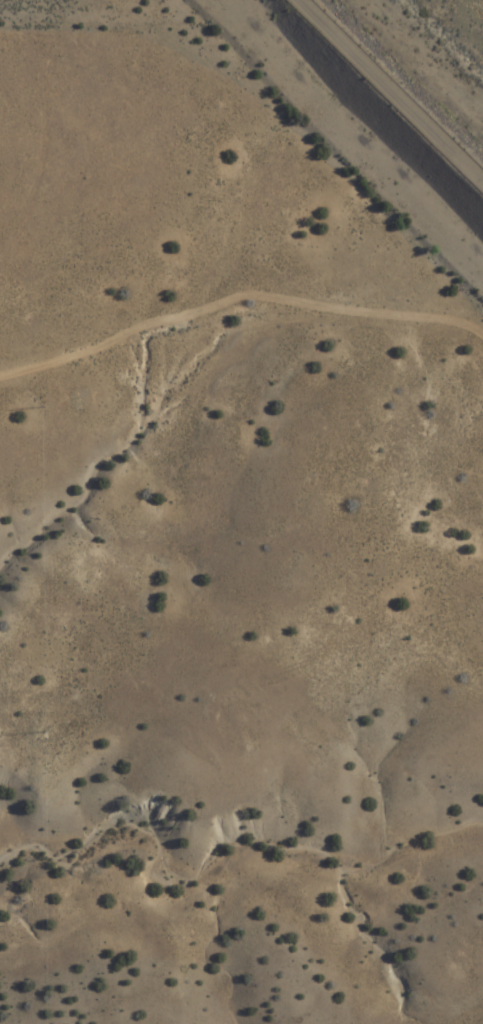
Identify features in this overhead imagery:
road: (394, 87)
dam: (363, 114)
road: (222, 307)

